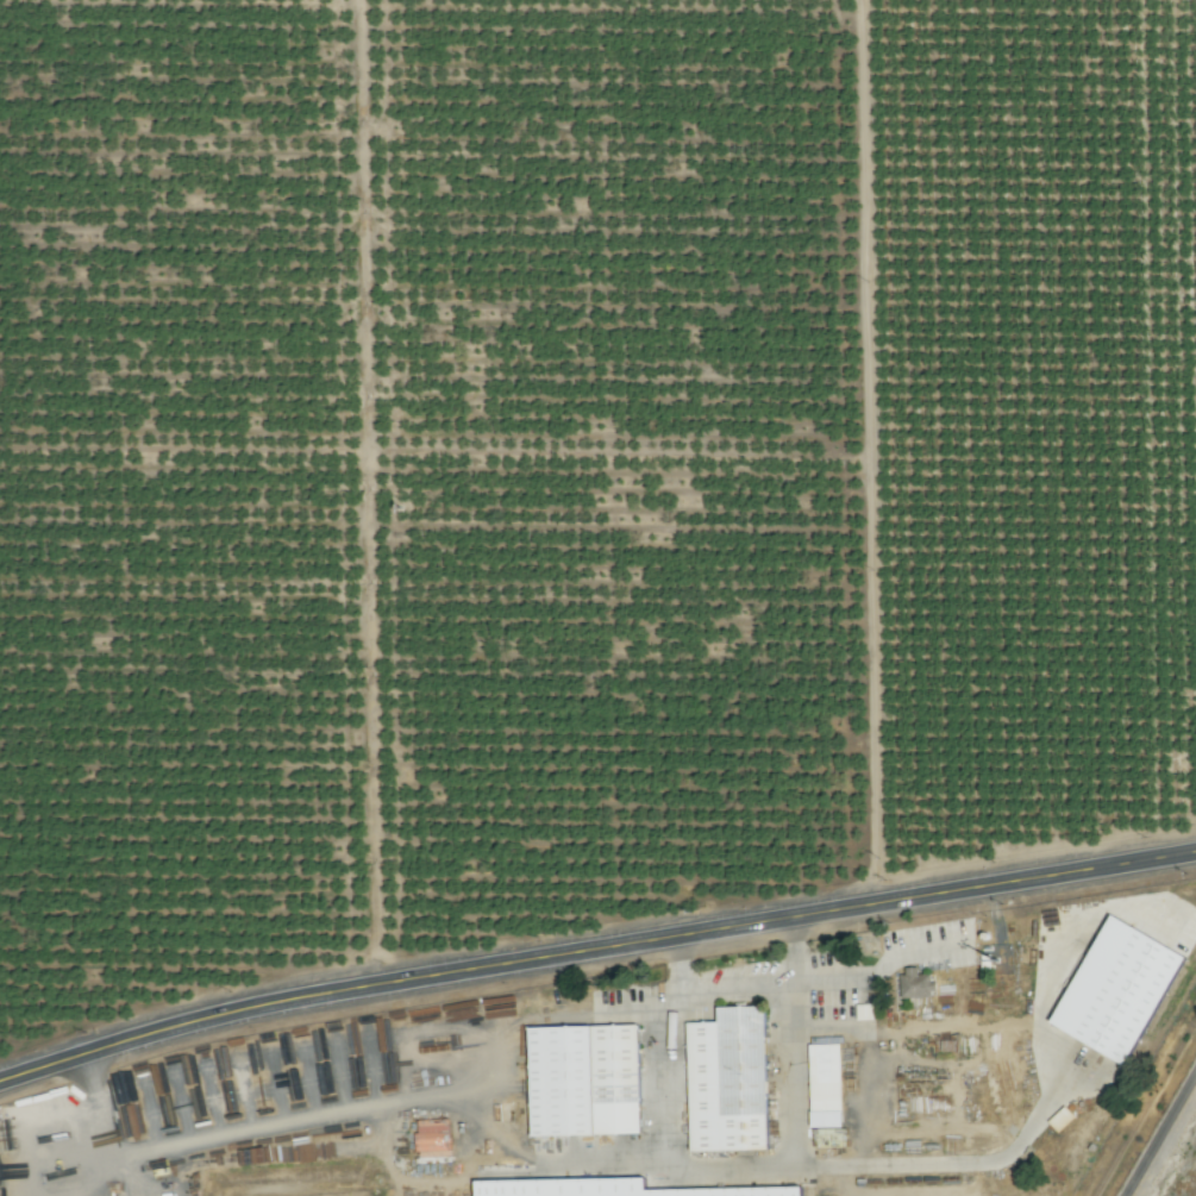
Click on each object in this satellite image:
road: (866, 453)
road: (363, 494)
road: (594, 950)
building: (915, 983)
road: (739, 985)
building: (1116, 989)
building: (864, 1012)
road: (831, 1028)
building: (584, 1079)
building: (727, 1081)
building: (825, 1084)
road: (1044, 1098)
railway: (1150, 1114)
road: (95, 1117)
road: (795, 1132)
road: (1160, 1134)
building: (432, 1138)
building: (612, 1189)

